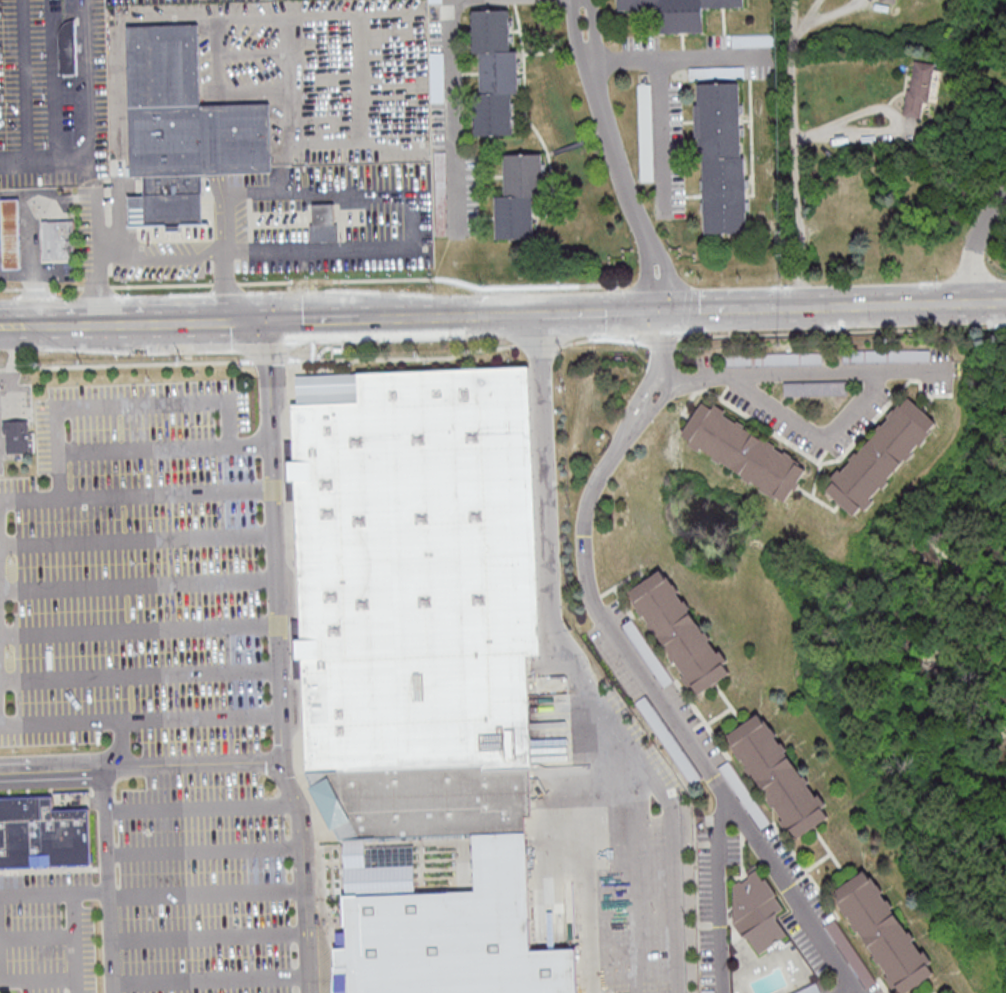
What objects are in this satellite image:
building: (890, 1)
building: (628, 4)
building: (753, 40)
road: (286, 41)
building: (67, 47)
road: (683, 58)
building: (495, 72)
building: (920, 89)
road: (25, 92)
road: (455, 102)
road: (85, 107)
road: (888, 109)
road: (609, 125)
building: (183, 126)
road: (664, 134)
road: (403, 137)
building: (647, 149)
road: (799, 155)
building: (723, 157)
building: (519, 196)
building: (323, 222)
building: (11, 234)
building: (59, 239)
road: (32, 246)
road: (651, 248)
road: (224, 250)
road: (978, 250)
road: (343, 251)
road: (903, 309)
road: (739, 313)
road: (672, 315)
road: (517, 316)
road: (597, 316)
road: (660, 316)
traffic signals: (665, 316)
road: (456, 318)
road: (388, 319)
road: (307, 320)
road: (352, 320)
road: (245, 321)
traffic signals: (269, 321)
road: (172, 322)
road: (77, 324)
road: (15, 325)
road: (539, 345)
building: (887, 357)
road: (447, 358)
building: (772, 359)
road: (10, 363)
road: (806, 373)
building: (823, 389)
road: (140, 400)
building: (17, 436)
road: (814, 437)
road: (142, 447)
building: (743, 452)
building: (881, 456)
road: (138, 537)
road: (0, 538)
road: (138, 584)
building: (416, 597)
river: (895, 604)
road: (139, 632)
building: (680, 633)
building: (649, 654)
road: (278, 658)
road: (640, 671)
road: (139, 674)
road: (595, 689)
building: (652, 715)
road: (178, 723)
building: (680, 757)
river: (1002, 762)
road: (194, 769)
road: (52, 772)
building: (777, 777)
building: (745, 796)
road: (200, 807)
building: (43, 834)
road: (205, 849)
road: (583, 856)
road: (633, 866)
road: (109, 882)
road: (207, 890)
road: (721, 895)
building: (757, 912)
building: (444, 918)
road: (2, 928)
building: (883, 933)
road: (209, 935)
road: (73, 937)
building: (850, 953)
road: (210, 978)
building: (811, 989)
road: (847, 990)

